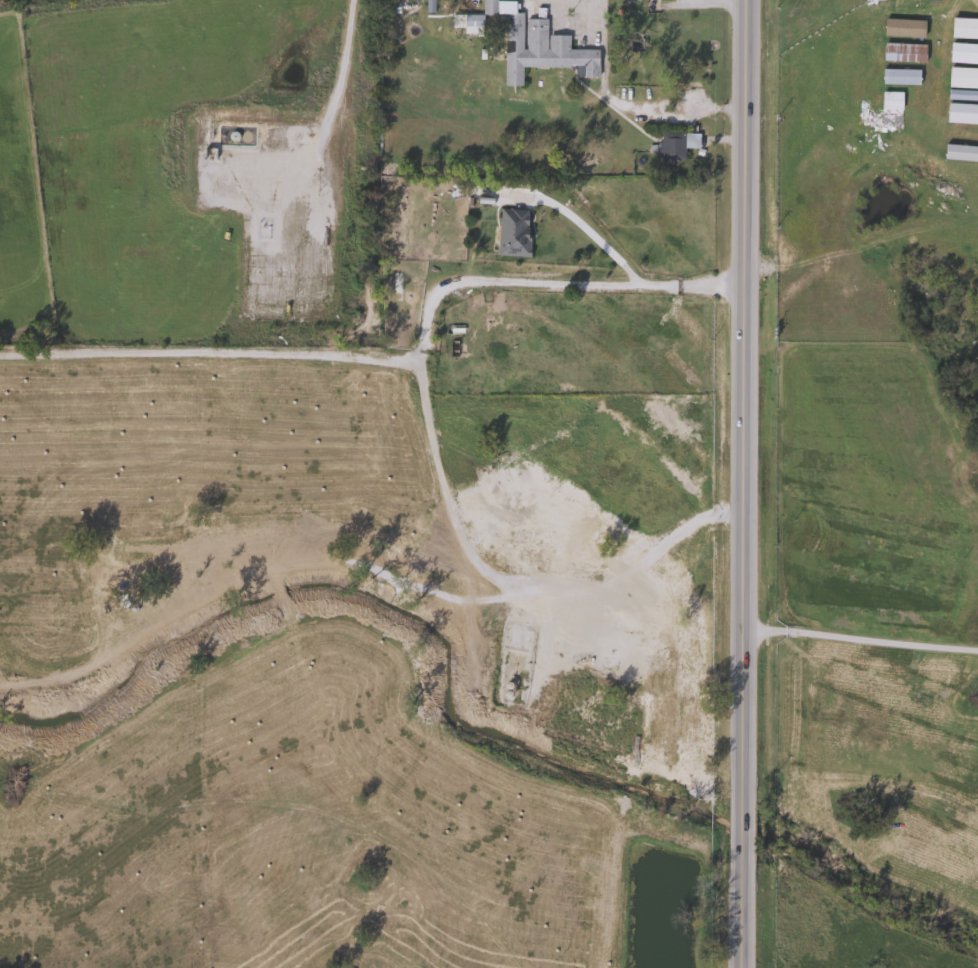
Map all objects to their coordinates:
building: (872, 0)
road: (727, 1)
road: (586, 3)
building: (644, 33)
building: (534, 45)
building: (876, 55)
road: (345, 78)
building: (886, 78)
building: (882, 100)
building: (880, 121)
building: (673, 144)
building: (512, 232)
road: (586, 233)
road: (429, 308)
road: (208, 353)
road: (745, 484)
road: (860, 639)

